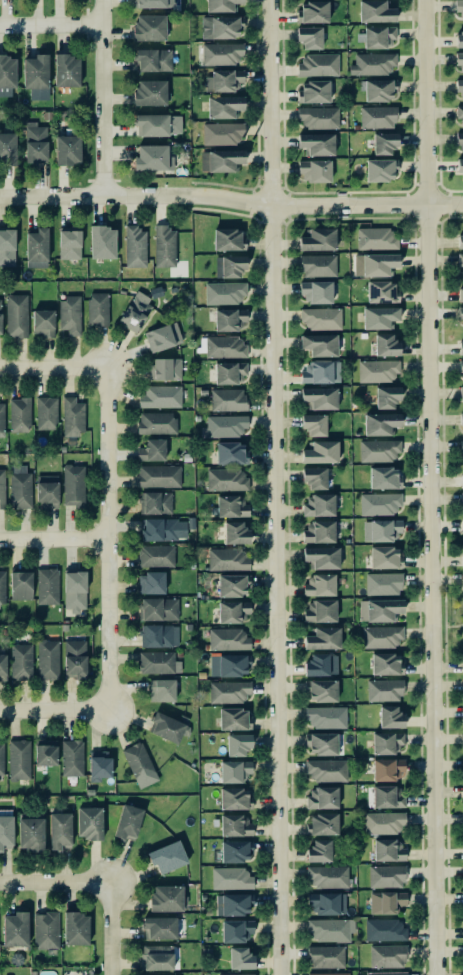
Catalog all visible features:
building: (151, 3)
building: (221, 5)
building: (459, 7)
building: (313, 11)
building: (375, 11)
road: (51, 26)
building: (149, 27)
building: (220, 27)
building: (309, 36)
building: (376, 36)
building: (459, 38)
building: (221, 53)
building: (153, 59)
building: (460, 62)
building: (372, 63)
building: (318, 64)
building: (66, 70)
building: (7, 74)
building: (36, 76)
building: (223, 80)
building: (459, 85)
building: (377, 89)
building: (315, 91)
building: (150, 92)
road: (104, 97)
building: (224, 106)
building: (459, 111)
building: (317, 117)
building: (377, 117)
building: (157, 124)
building: (222, 133)
building: (35, 142)
building: (384, 142)
building: (460, 142)
building: (317, 143)
building: (7, 148)
building: (67, 149)
building: (150, 157)
building: (220, 160)
building: (459, 165)
building: (380, 169)
building: (315, 170)
road: (231, 200)
building: (376, 238)
building: (228, 239)
building: (318, 239)
building: (460, 240)
building: (69, 242)
building: (102, 242)
building: (135, 246)
building: (164, 246)
building: (7, 247)
building: (36, 248)
building: (461, 263)
building: (379, 264)
building: (229, 265)
building: (318, 265)
building: (316, 291)
building: (382, 291)
building: (224, 292)
building: (460, 293)
building: (97, 308)
building: (69, 314)
building: (134, 314)
building: (16, 315)
building: (379, 316)
building: (461, 316)
building: (229, 318)
building: (321, 318)
building: (0, 322)
building: (43, 322)
building: (162, 336)
building: (320, 344)
building: (386, 345)
building: (225, 346)
building: (461, 347)
building: (461, 365)
road: (51, 367)
building: (165, 368)
building: (377, 370)
building: (230, 372)
building: (317, 372)
building: (461, 392)
building: (160, 396)
building: (386, 396)
building: (319, 397)
building: (227, 399)
building: (46, 412)
building: (19, 414)
building: (73, 416)
building: (1, 419)
building: (156, 422)
building: (380, 423)
building: (462, 423)
building: (313, 424)
building: (225, 425)
building: (461, 445)
building: (152, 450)
building: (378, 450)
building: (320, 452)
building: (231, 453)
building: (158, 475)
building: (314, 477)
building: (384, 477)
building: (226, 479)
building: (461, 480)
building: (73, 485)
building: (19, 486)
road: (274, 487)
road: (434, 487)
building: (2, 489)
building: (47, 491)
building: (155, 502)
building: (462, 502)
building: (379, 503)
building: (318, 504)
building: (231, 506)
building: (461, 525)
building: (163, 529)
building: (380, 530)
building: (319, 531)
building: (235, 532)
road: (102, 538)
road: (51, 540)
building: (156, 555)
building: (321, 556)
building: (385, 557)
building: (462, 558)
building: (227, 559)
building: (151, 582)
building: (383, 583)
building: (319, 584)
building: (21, 585)
building: (47, 585)
building: (232, 585)
building: (2, 587)
building: (74, 590)
road: (444, 604)
building: (159, 609)
building: (379, 609)
building: (319, 610)
building: (232, 611)
park: (451, 621)
road: (453, 625)
building: (159, 635)
building: (380, 636)
building: (323, 637)
building: (228, 639)
road: (444, 643)
building: (48, 656)
building: (74, 656)
building: (21, 661)
building: (158, 662)
building: (386, 663)
building: (321, 664)
building: (228, 665)
building: (2, 666)
building: (462, 683)
building: (161, 689)
building: (384, 689)
building: (321, 690)
building: (228, 691)
road: (53, 710)
building: (326, 716)
building: (390, 716)
building: (233, 718)
building: (166, 727)
building: (386, 742)
building: (237, 743)
building: (322, 744)
building: (45, 752)
building: (1, 756)
building: (72, 757)
building: (19, 759)
building: (99, 764)
building: (139, 764)
building: (387, 768)
building: (234, 770)
building: (325, 770)
building: (322, 797)
building: (387, 797)
building: (235, 798)
building: (127, 821)
building: (88, 822)
building: (383, 822)
building: (235, 824)
building: (323, 824)
building: (59, 830)
building: (30, 833)
building: (388, 849)
building: (235, 850)
building: (318, 850)
building: (167, 856)
building: (327, 876)
building: (386, 876)
building: (230, 878)
road: (54, 881)
building: (166, 898)
building: (386, 901)
building: (326, 903)
building: (232, 904)
building: (75, 927)
building: (160, 927)
building: (15, 928)
road: (108, 928)
building: (330, 929)
building: (384, 929)
building: (46, 930)
building: (236, 930)
building: (325, 956)
building: (387, 956)
building: (157, 957)
building: (240, 958)
building: (330, 973)
building: (386, 973)
building: (236, 974)

